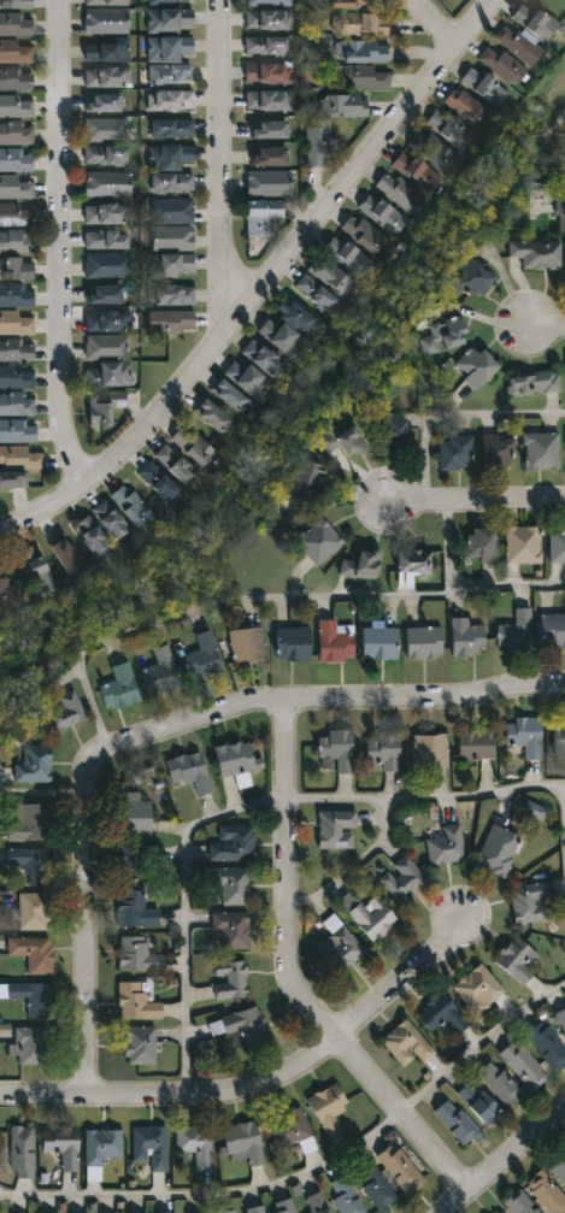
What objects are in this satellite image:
building: (323, 0)
building: (169, 1)
building: (106, 2)
building: (266, 2)
building: (351, 2)
building: (16, 4)
building: (169, 19)
building: (267, 19)
building: (105, 20)
building: (534, 20)
road: (431, 23)
building: (16, 24)
building: (361, 24)
building: (517, 45)
building: (265, 46)
building: (169, 48)
building: (16, 49)
building: (105, 49)
building: (357, 51)
building: (500, 65)
building: (266, 72)
building: (169, 73)
building: (359, 76)
building: (106, 77)
building: (16, 78)
building: (483, 86)
building: (170, 100)
building: (267, 100)
building: (104, 102)
building: (342, 105)
building: (16, 106)
building: (466, 107)
park: (541, 126)
building: (171, 128)
building: (105, 129)
building: (269, 129)
building: (451, 129)
building: (16, 134)
building: (316, 147)
building: (432, 149)
building: (106, 155)
building: (170, 157)
building: (269, 157)
building: (16, 160)
road: (218, 167)
building: (416, 172)
building: (171, 183)
building: (267, 183)
building: (107, 184)
building: (16, 187)
building: (399, 192)
building: (172, 211)
building: (106, 213)
building: (383, 213)
building: (16, 214)
building: (561, 214)
building: (261, 216)
building: (365, 234)
building: (172, 237)
building: (106, 239)
building: (16, 241)
road: (60, 242)
building: (537, 253)
building: (348, 255)
building: (107, 265)
building: (171, 265)
building: (16, 269)
building: (475, 277)
road: (260, 281)
building: (324, 283)
building: (104, 294)
building: (171, 294)
building: (16, 295)
building: (106, 320)
building: (170, 320)
building: (16, 322)
building: (288, 326)
road: (547, 332)
building: (446, 335)
building: (16, 349)
building: (264, 358)
building: (107, 361)
building: (476, 366)
building: (16, 377)
building: (247, 378)
building: (532, 383)
building: (230, 396)
building: (17, 404)
building: (104, 407)
building: (213, 416)
road: (496, 416)
building: (396, 431)
building: (17, 432)
building: (348, 442)
building: (194, 444)
building: (541, 449)
building: (498, 452)
building: (454, 453)
building: (175, 464)
building: (17, 465)
building: (308, 479)
building: (159, 481)
building: (133, 505)
road: (477, 506)
building: (112, 522)
building: (93, 536)
building: (320, 542)
building: (557, 543)
building: (522, 544)
building: (481, 546)
road: (449, 550)
building: (69, 558)
building: (413, 561)
building: (364, 565)
building: (37, 571)
building: (4, 594)
road: (265, 599)
building: (552, 629)
building: (514, 632)
building: (465, 637)
building: (334, 641)
building: (423, 642)
building: (246, 643)
building: (293, 643)
building: (378, 643)
building: (204, 656)
building: (161, 671)
building: (119, 688)
building: (65, 711)
road: (166, 731)
building: (523, 735)
building: (558, 735)
building: (475, 742)
building: (336, 748)
building: (382, 750)
building: (428, 750)
building: (233, 758)
building: (34, 762)
building: (187, 770)
road: (43, 794)
road: (425, 794)
building: (534, 811)
building: (134, 813)
building: (29, 822)
building: (335, 829)
building: (230, 843)
building: (445, 846)
building: (496, 849)
road: (564, 850)
building: (131, 862)
building: (31, 864)
road: (354, 865)
building: (400, 878)
building: (230, 884)
building: (528, 902)
road: (184, 908)
building: (133, 909)
building: (33, 911)
building: (366, 914)
building: (229, 929)
building: (335, 948)
building: (31, 953)
building: (135, 954)
building: (514, 959)
road: (290, 974)
building: (229, 979)
building: (476, 988)
building: (31, 997)
building: (134, 1001)
building: (440, 1014)
building: (561, 1018)
building: (216, 1029)
building: (245, 1031)
building: (405, 1043)
building: (139, 1044)
road: (481, 1044)
building: (547, 1044)
building: (30, 1046)
building: (201, 1050)
building: (523, 1064)
road: (264, 1082)
building: (499, 1083)
building: (477, 1101)
building: (326, 1107)
building: (454, 1120)
building: (287, 1126)
building: (242, 1141)
building: (194, 1143)
building: (61, 1144)
building: (100, 1146)
building: (148, 1146)
building: (19, 1150)
road: (504, 1162)
building: (558, 1167)
building: (399, 1168)
building: (373, 1186)
building: (545, 1193)
road: (212, 1194)
building: (343, 1195)
building: (313, 1203)
building: (517, 1203)
building: (281, 1207)
building: (252, 1209)
building: (223, 1212)
building: (496, 1212)

